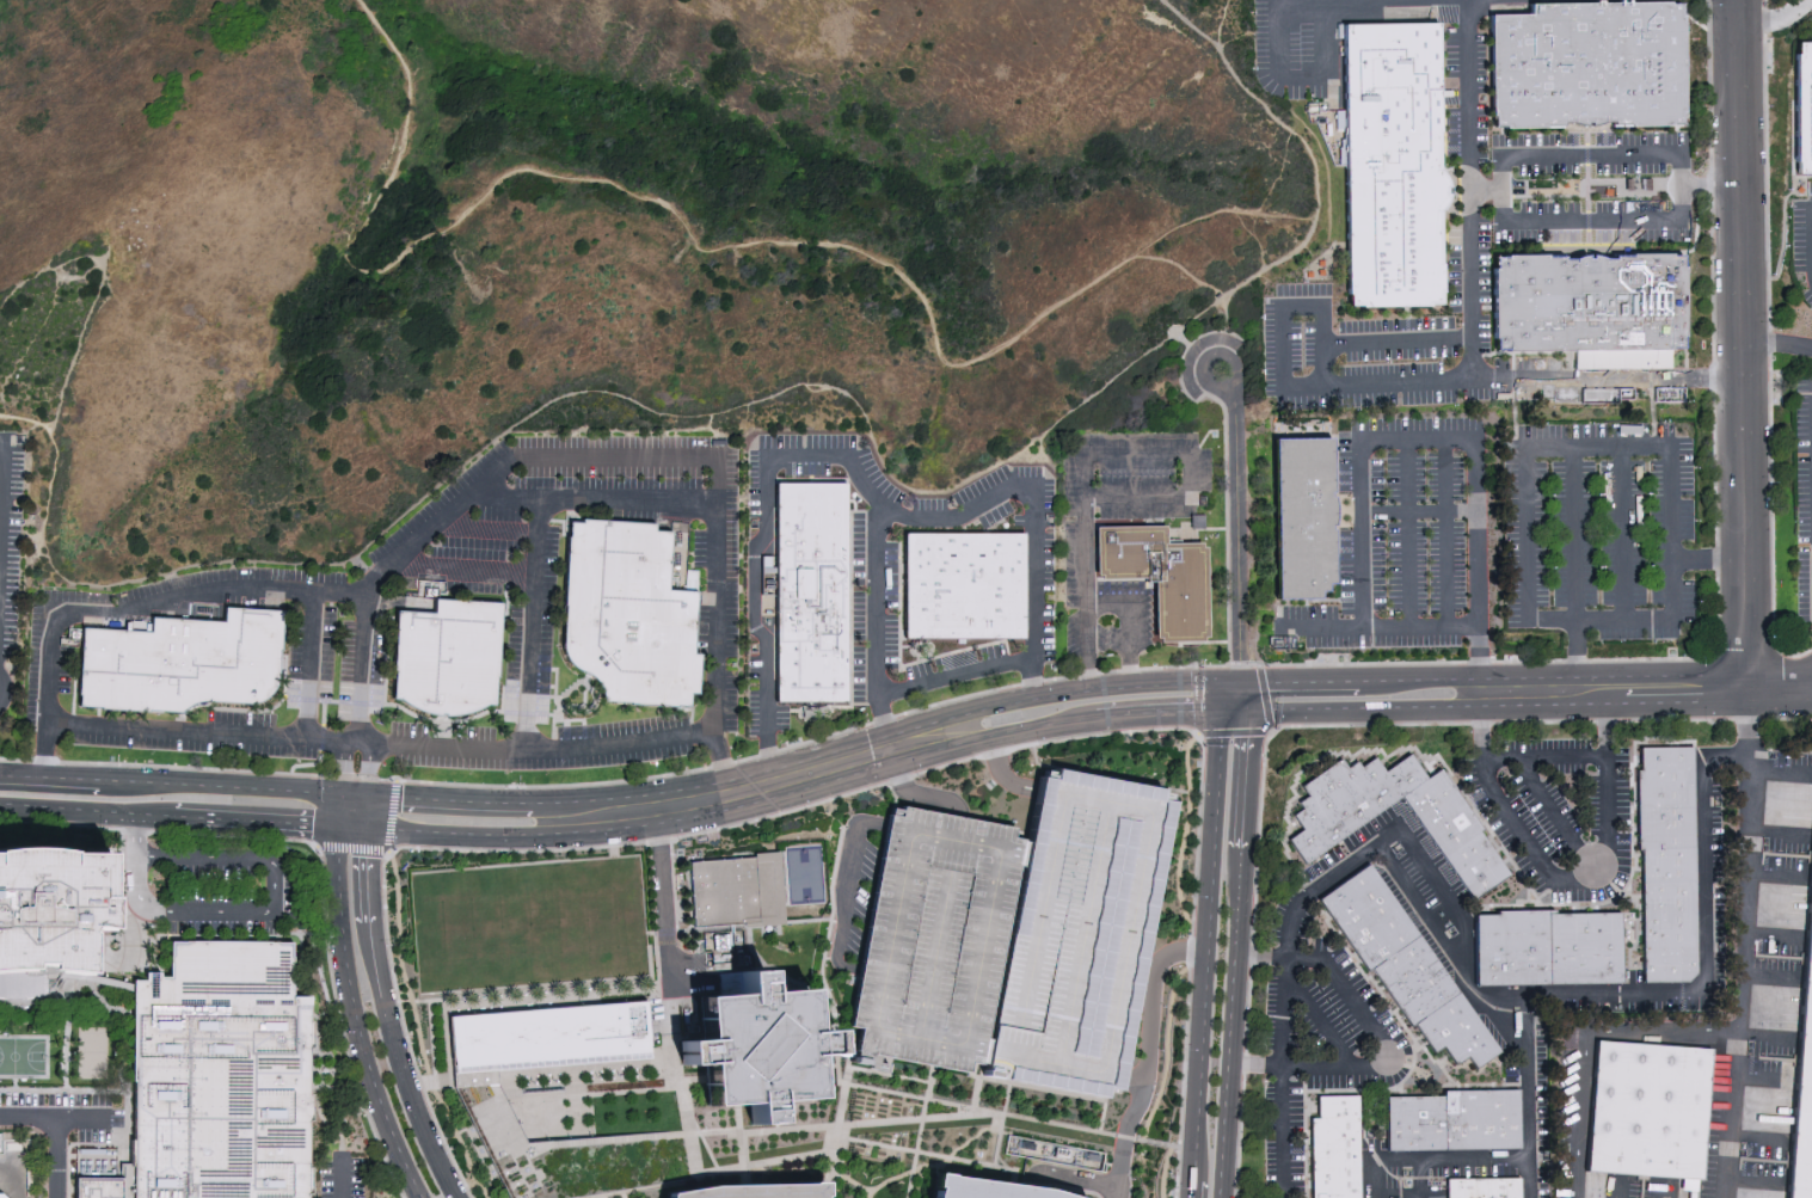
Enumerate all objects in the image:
road: (1278, 11)
road: (1777, 18)
road: (1221, 20)
building: (1807, 29)
road: (1323, 33)
parking lot: (1261, 44)
parking lot: (1300, 47)
building: (1591, 67)
parking lot: (1450, 96)
parking lot: (1482, 100)
building: (1802, 107)
road: (1468, 112)
parking lot: (1648, 139)
parking lot: (1531, 140)
building: (1395, 166)
parking lot: (1592, 171)
road: (1273, 180)
road: (1712, 185)
road: (1679, 188)
parking lot: (1808, 188)
road: (1592, 189)
parking lot: (1592, 205)
road: (1283, 215)
road: (1276, 222)
parking lot: (1665, 235)
parking lot: (1798, 236)
road: (708, 244)
parking lot: (1485, 263)
parking lot: (1451, 265)
road: (1185, 271)
road: (1685, 294)
parking lot: (1807, 297)
road: (90, 299)
building: (1589, 300)
parking lot: (1485, 333)
road: (1183, 339)
road: (1357, 343)
road: (1745, 343)
road: (1770, 343)
road: (1779, 344)
parking lot: (1303, 345)
parking lot: (1269, 348)
road: (1497, 352)
road: (1540, 352)
road: (1233, 360)
road: (1570, 360)
parking lot: (1395, 361)
road: (1512, 362)
parking lot: (1536, 363)
parking lot: (1187, 367)
road: (1664, 373)
road: (1512, 379)
road: (1608, 380)
road: (1418, 381)
parking lot: (1401, 398)
road: (762, 399)
parking lot: (1800, 416)
parking lot: (1414, 424)
parking lot: (1665, 430)
parking lot: (1583, 431)
parking lot: (1135, 440)
parking lot: (615, 442)
parking lot: (621, 442)
parking lot: (779, 442)
parking lot: (829, 442)
road: (1359, 442)
road: (1224, 451)
road: (601, 459)
parking lot: (1344, 465)
road: (794, 468)
parking lot: (1205, 468)
parking lot: (807, 469)
parking lot: (1027, 473)
parking lot: (1136, 475)
parking lot: (878, 477)
parking lot: (1425, 477)
parking lot: (608, 478)
parking lot: (1384, 478)
parking lot: (1458, 479)
road: (828, 480)
road: (2, 481)
parking lot: (753, 485)
parking lot: (982, 485)
parking lot: (1068, 485)
parking lot: (1684, 487)
road: (1179, 496)
parking lot: (1549, 496)
parking lot: (1597, 496)
parking lot: (1645, 496)
parking lot: (1049, 497)
parking lot: (1801, 499)
road: (596, 500)
parking lot: (437, 502)
parking lot: (927, 505)
road: (1527, 508)
parking lot: (1145, 511)
road: (1417, 511)
parking lot: (498, 515)
parking lot: (619, 515)
parking lot: (995, 515)
road: (950, 518)
building: (1302, 520)
parking lot: (1019, 521)
road: (960, 523)
road: (978, 523)
road: (1194, 529)
road: (486, 532)
road: (1408, 533)
road: (1446, 533)
road: (1574, 533)
road: (1622, 533)
road: (1237, 534)
parking lot: (1511, 535)
road: (762, 542)
parking lot: (473, 548)
parking lot: (698, 549)
parking lot: (732, 554)
parking lot: (731, 559)
road: (1709, 560)
parking lot: (1049, 563)
parking lot: (1070, 566)
parking lot: (1460, 566)
road: (465, 567)
parking lot: (1386, 567)
road: (903, 569)
parking lot: (1427, 569)
parking lot: (1647, 570)
parking lot: (1345, 571)
parking lot: (1550, 572)
parking lot: (1597, 572)
parking lot: (890, 576)
building: (1159, 576)
parking lot: (232, 580)
road: (903, 583)
parking lot: (472, 585)
parking lot: (1802, 585)
parking lot: (1120, 588)
building: (966, 589)
building: (810, 592)
parking lot: (76, 597)
road: (430, 600)
road: (500, 601)
parking lot: (242, 602)
road: (506, 602)
road: (850, 602)
parking lot: (1687, 602)
road: (1102, 603)
parking lot: (859, 609)
road: (133, 610)
road: (423, 612)
parking lot: (1309, 613)
building: (627, 616)
parking lot: (116, 621)
road: (530, 622)
parking lot: (547, 622)
parking lot: (1144, 623)
road: (1319, 626)
parking lot: (702, 631)
parking lot: (1071, 632)
parking lot: (1049, 633)
parking lot: (1107, 640)
parking lot: (890, 643)
road: (1202, 643)
parking lot: (1380, 643)
road: (921, 647)
parking lot: (514, 649)
parking lot: (326, 652)
road: (1575, 655)
road: (1476, 657)
road: (899, 658)
building: (447, 659)
parking lot: (295, 662)
parking lot: (377, 662)
parking lot: (953, 662)
building: (183, 663)
road: (1377, 665)
road: (309, 666)
parking lot: (753, 666)
parking lot: (32, 669)
road: (553, 670)
parking lot: (65, 671)
parking lot: (346, 671)
road: (76, 680)
road: (1358, 680)
traffic signals: (1236, 684)
road: (553, 687)
road: (1780, 687)
road: (555, 688)
road: (1613, 688)
road: (570, 689)
road: (1236, 694)
road: (594, 699)
road: (332, 701)
parking lot: (731, 702)
parking lot: (731, 702)
traffic signals: (1236, 705)
road: (1359, 706)
road: (86, 707)
road: (817, 707)
road: (194, 708)
road: (270, 708)
road: (578, 708)
road: (403, 709)
road: (99, 712)
road: (324, 713)
road: (524, 713)
parking lot: (754, 714)
parking lot: (781, 717)
parking lot: (241, 719)
parking lot: (509, 719)
road: (571, 720)
road: (566, 724)
road: (1478, 724)
road: (1307, 725)
road: (441, 727)
road: (553, 727)
parking lot: (622, 727)
parking lot: (409, 729)
road: (196, 732)
parking lot: (472, 733)
road: (351, 743)
road: (364, 744)
parking lot: (1543, 745)
parking lot: (195, 747)
road: (542, 748)
road: (1020, 748)
parking lot: (545, 760)
road: (804, 760)
parking lot: (1792, 760)
road: (344, 768)
parking lot: (1566, 768)
road: (370, 769)
road: (1000, 769)
road: (199, 772)
road: (1246, 775)
road: (50, 776)
road: (1488, 780)
parking lot: (1472, 784)
road: (804, 785)
parking lot: (1715, 785)
road: (222, 786)
traffic signals: (343, 794)
road: (356, 794)
traffic signals: (369, 795)
road: (919, 798)
road: (1549, 805)
parking lot: (1562, 805)
parking lot: (1593, 806)
road: (342, 812)
road: (369, 812)
parking lot: (1622, 813)
road: (170, 816)
parking lot: (1536, 818)
parking lot: (1368, 828)
road: (1603, 828)
road: (1398, 829)
building: (1451, 829)
traffic signals: (340, 830)
road: (355, 830)
traffic signals: (369, 830)
road: (1184, 831)
parking lot: (1716, 844)
road: (385, 850)
parking lot: (1513, 850)
road: (391, 853)
parking lot: (1787, 854)
parking lot: (1323, 864)
parking lot: (1441, 866)
building: (1667, 866)
road: (321, 868)
park: (805, 878)
parking lot: (1419, 881)
road: (847, 887)
parking lot: (227, 893)
building: (738, 896)
parking lot: (1580, 896)
building: (49, 905)
road: (1421, 905)
road: (830, 911)
road: (251, 913)
parking lot: (1279, 915)
parking lot: (1411, 916)
road: (123, 920)
parking lot: (1304, 924)
building: (1073, 926)
parking lot: (1073, 926)
road: (668, 928)
building: (936, 932)
parking lot: (936, 932)
road: (1204, 939)
parking lot: (1721, 940)
road: (1739, 942)
road: (1706, 945)
road: (750, 947)
building: (1544, 950)
parking lot: (1781, 957)
road: (403, 971)
building: (1407, 971)
parking lot: (1353, 976)
road: (682, 978)
parking lot: (1629, 1007)
road: (1151, 1008)
road: (66, 1010)
parking lot: (1269, 1010)
parking lot: (1333, 1010)
road: (392, 1018)
road: (358, 1019)
road: (123, 1022)
road: (1230, 1022)
road: (1320, 1024)
road: (403, 1028)
parking lot: (1312, 1032)
parking lot: (1292, 1033)
parking lot: (1393, 1033)
road: (1282, 1038)
road: (1382, 1039)
road: (836, 1042)
road: (1585, 1044)
building: (756, 1049)
road: (1167, 1051)
park: (94, 1053)
park: (23, 1057)
parking lot: (1773, 1058)
road: (601, 1069)
road: (889, 1074)
building: (222, 1076)
road: (1527, 1077)
road: (692, 1080)
parking lot: (1353, 1081)
road: (977, 1083)
parking lot: (1564, 1087)
fountain: (543, 1088)
road: (886, 1089)
road: (1107, 1091)
road: (88, 1092)
road: (1057, 1092)
road: (1007, 1098)
building: (1805, 1101)
road: (966, 1105)
parking lot: (1267, 1107)
parking lot: (1541, 1108)
building: (485, 1110)
road: (977, 1114)
road: (85, 1117)
building: (1651, 1117)
road: (738, 1119)
road: (921, 1122)
building: (1454, 1123)
parking lot: (1710, 1124)
road: (56, 1129)
road: (764, 1131)
road: (1282, 1132)
road: (1125, 1134)
road: (1125, 1137)
road: (459, 1139)
road: (999, 1139)
road: (1140, 1139)
parking lot: (1295, 1139)
parking lot: (1374, 1144)
road: (73, 1145)
road: (1172, 1147)
building: (1334, 1149)
road: (708, 1151)
building: (1049, 1151)
road: (742, 1153)
road: (930, 1155)
road: (1495, 1157)
road: (1365, 1159)
parking lot: (1767, 1161)
road: (766, 1162)
road: (19, 1167)
parking lot: (1270, 1167)
road: (128, 1171)
parking lot: (1476, 1171)
road: (804, 1172)
road: (1162, 1172)
road: (979, 1175)
road: (343, 1178)
parking lot: (1386, 1178)
parking lot: (1560, 1178)
road: (1067, 1179)
road: (1188, 1187)
building: (1482, 1187)
building: (979, 1188)
parking lot: (1642, 1188)
road: (641, 1190)
building: (753, 1191)
parking lot: (1435, 1191)
road: (1614, 1193)
road: (1665, 1194)
road: (1421, 1197)

